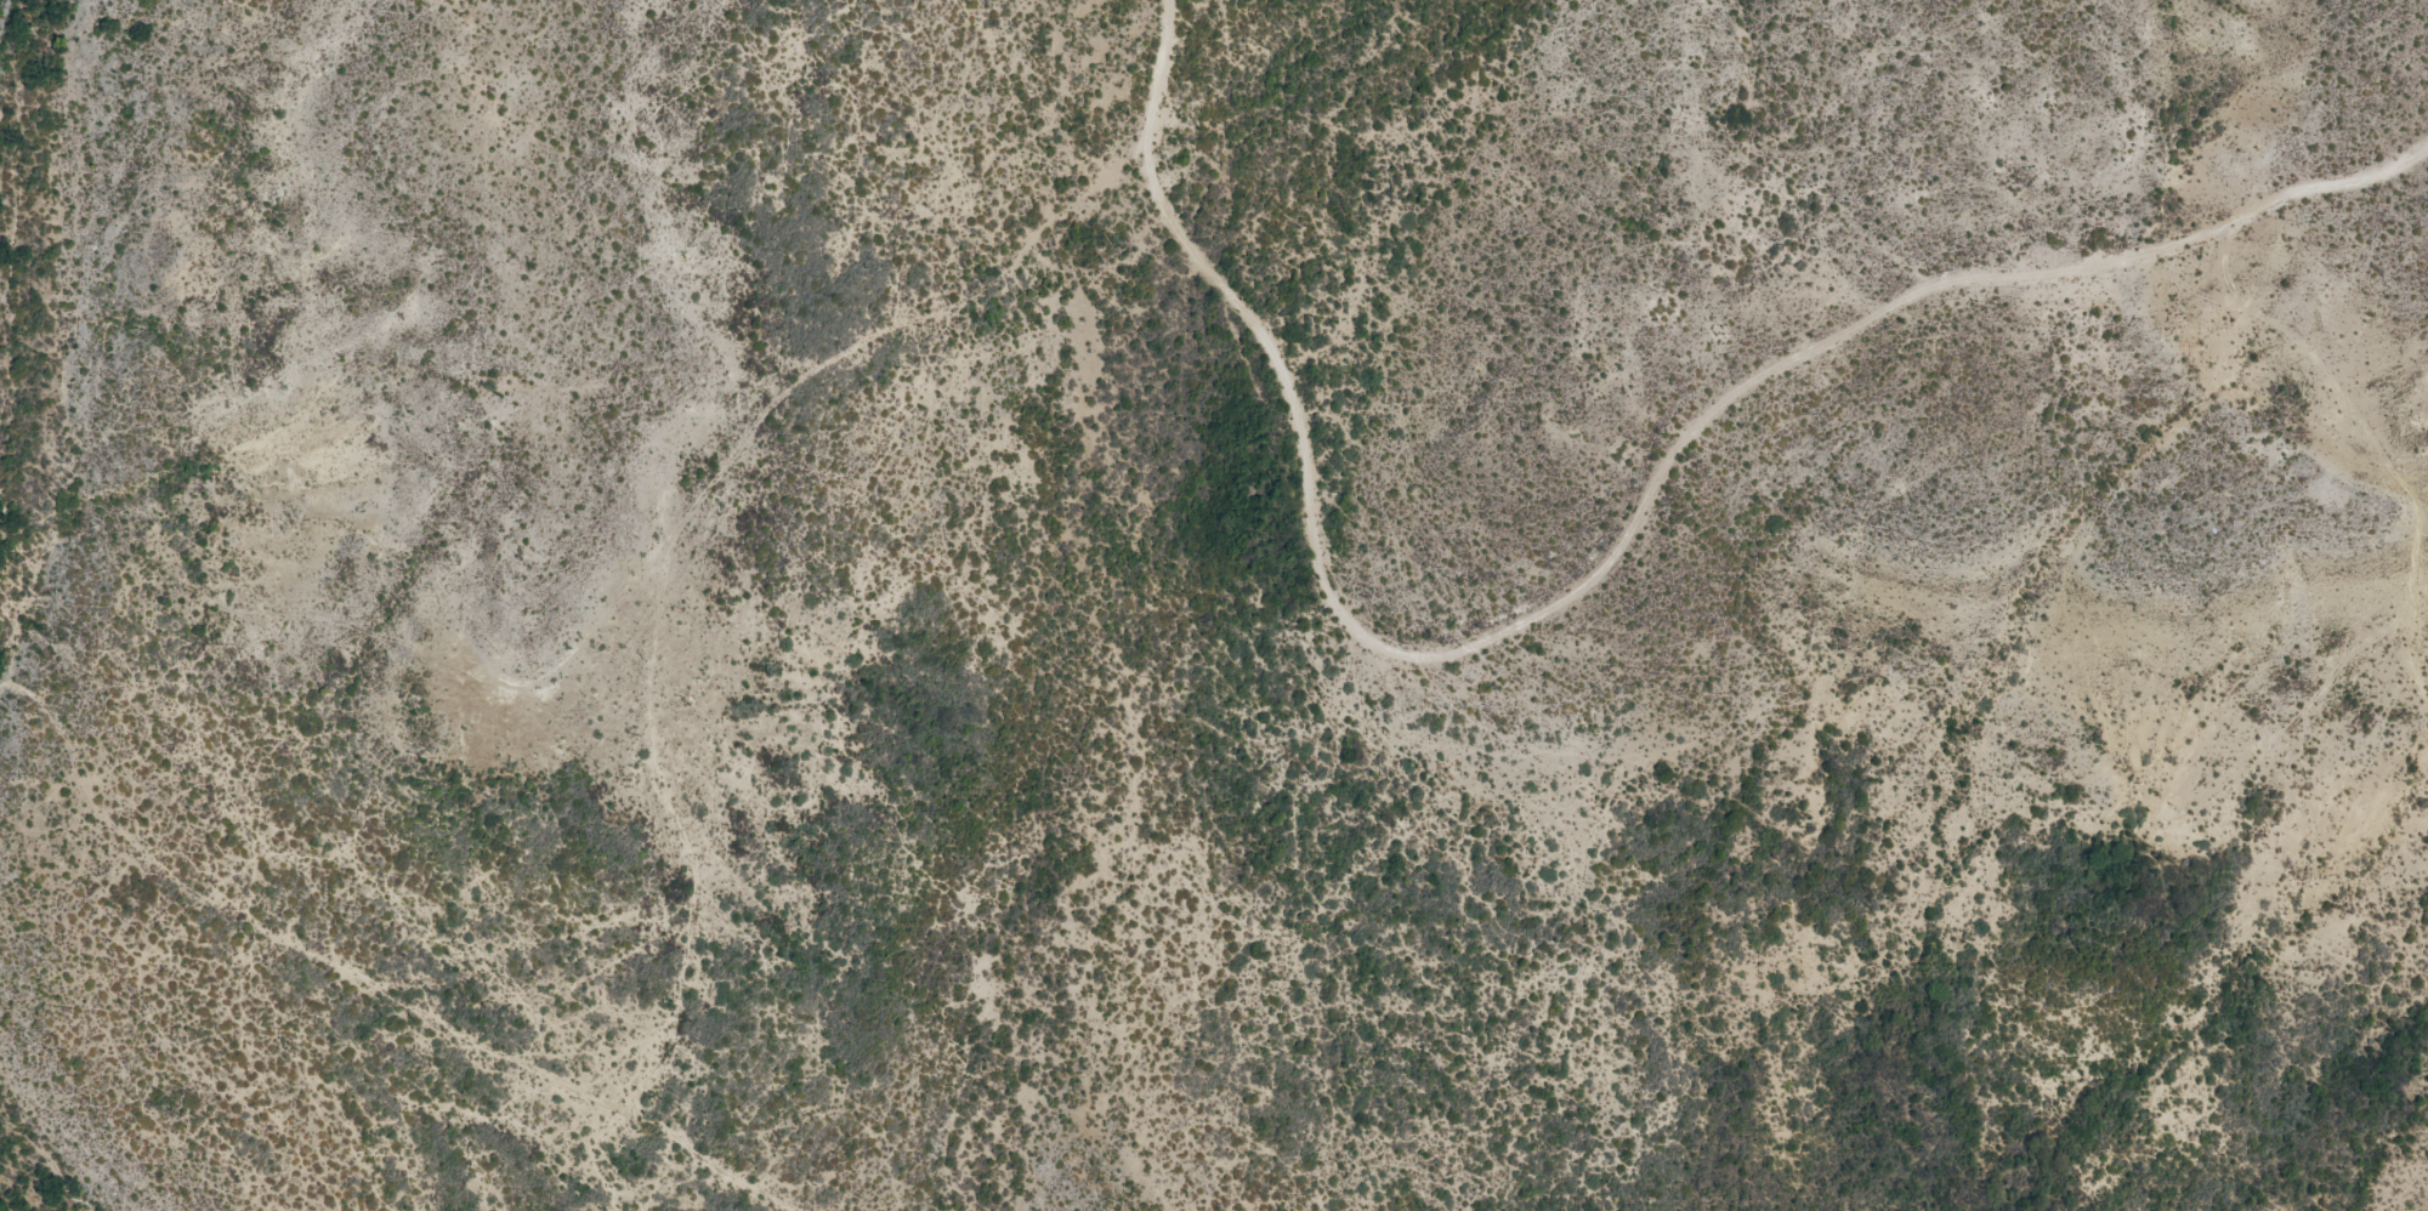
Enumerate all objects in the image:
road: (1604, 568)

